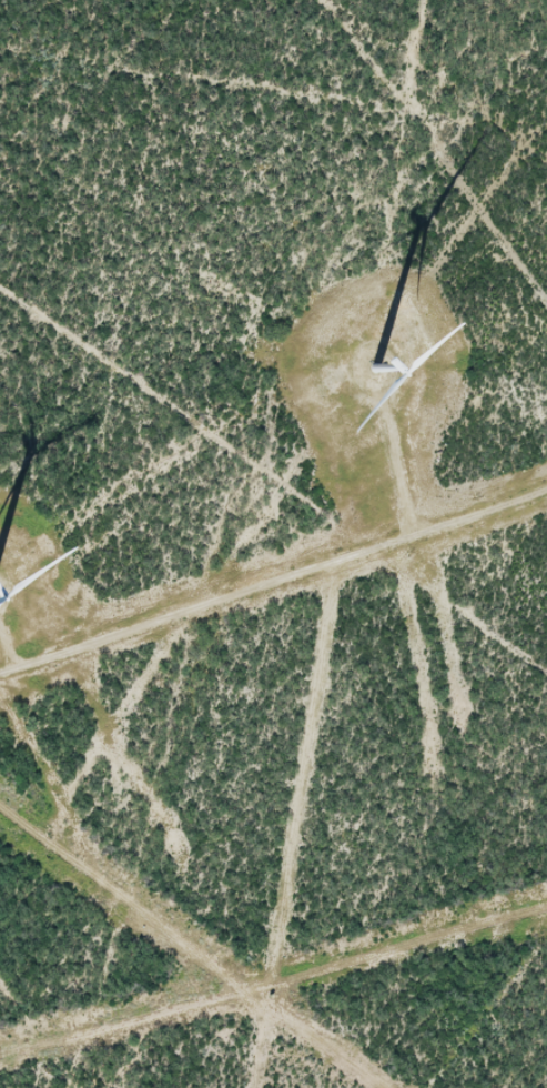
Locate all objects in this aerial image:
wind turbine: (375, 370)

